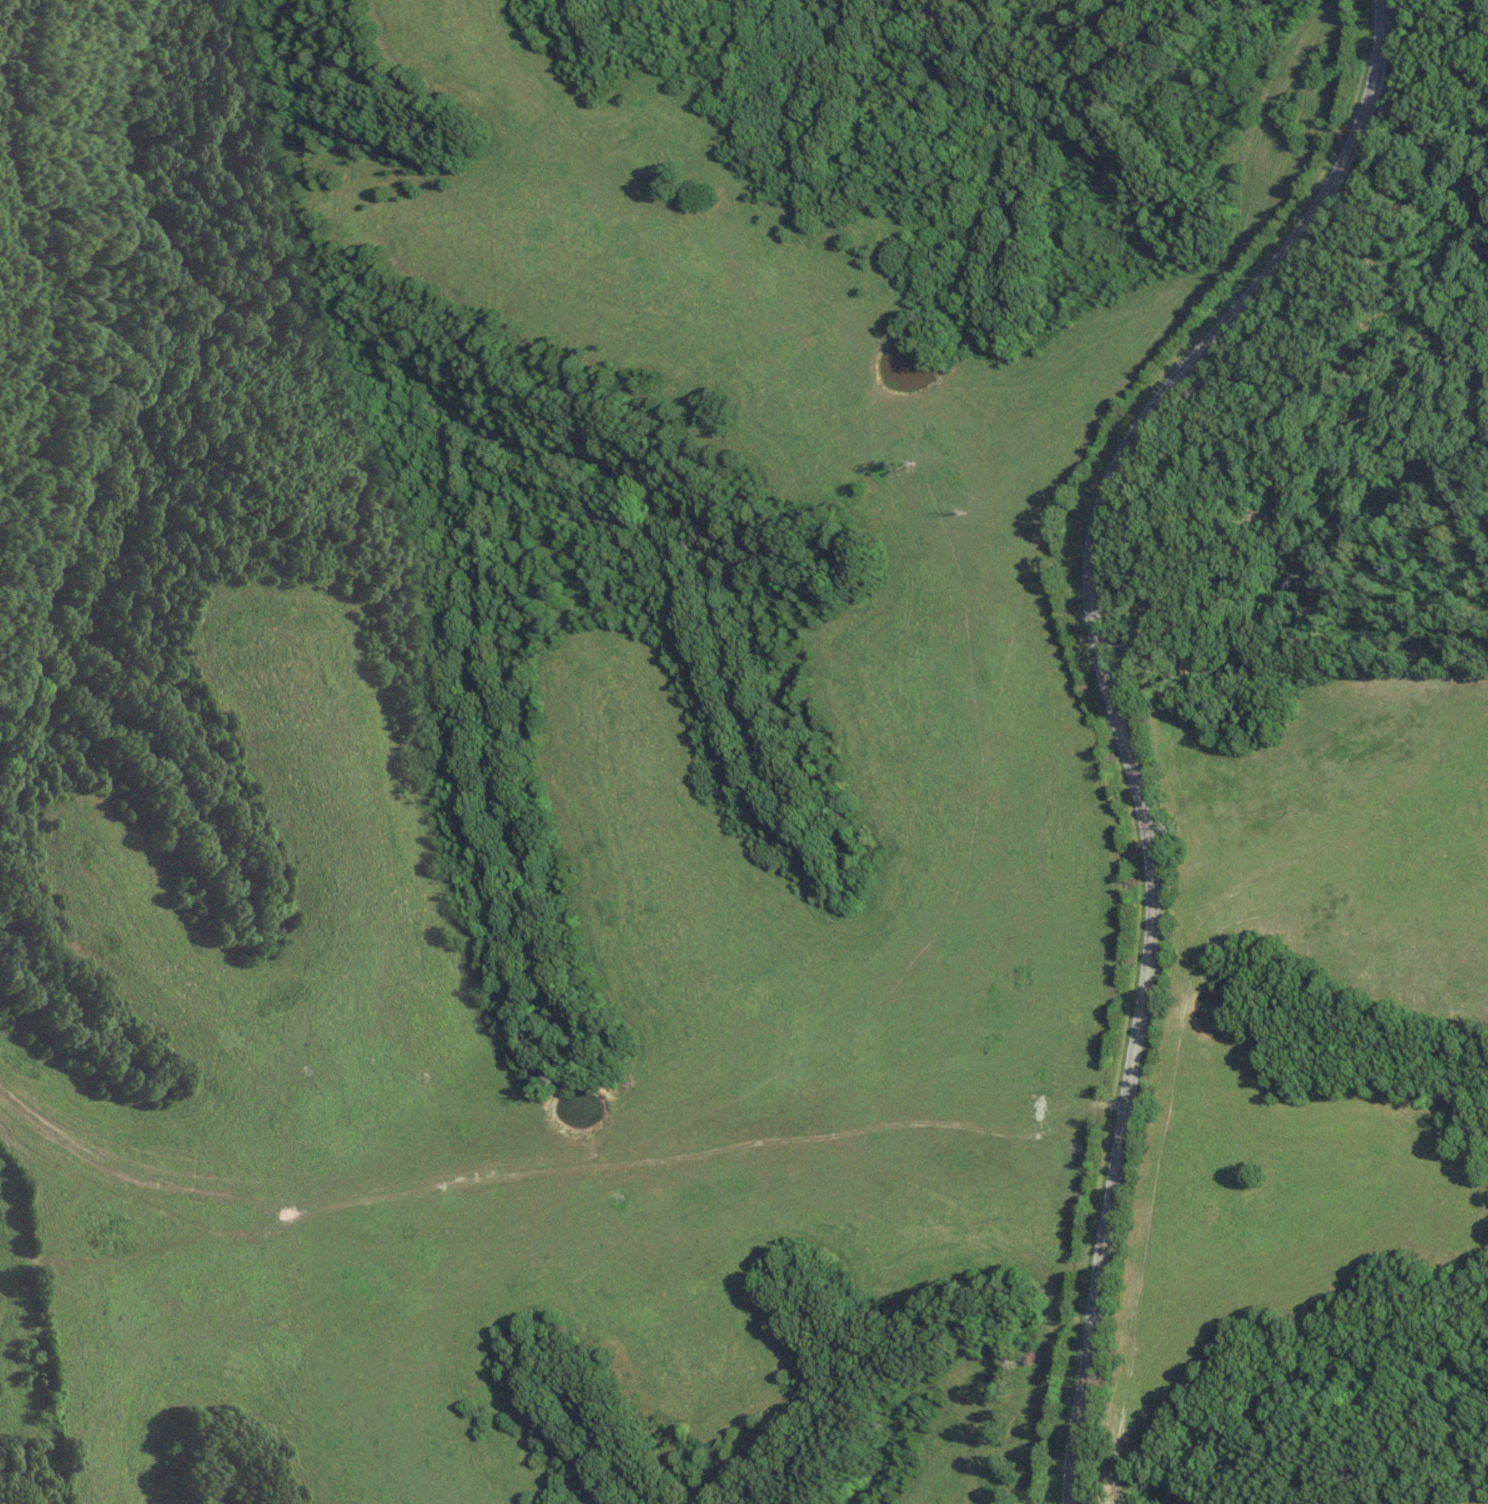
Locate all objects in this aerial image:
road: (1114, 711)

